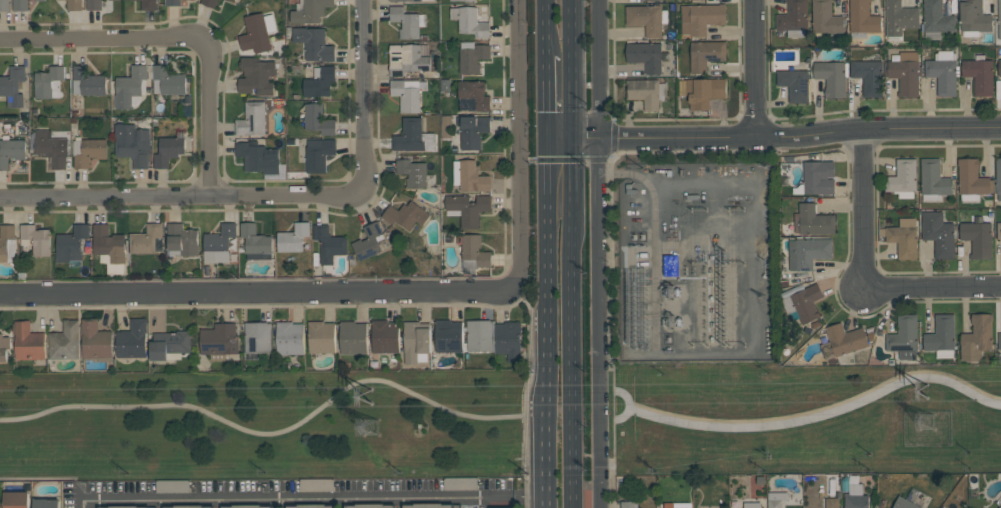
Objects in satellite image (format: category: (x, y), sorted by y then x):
building: (40, 0)
building: (227, 0)
building: (233, 0)
building: (416, 0)
building: (463, 0)
building: (394, 1)
building: (209, 2)
building: (172, 3)
building: (148, 4)
building: (4, 5)
building: (20, 5)
building: (74, 5)
building: (94, 5)
building: (310, 11)
building: (647, 18)
building: (701, 18)
building: (974, 18)
building: (999, 18)
building: (794, 19)
building: (825, 19)
building: (862, 19)
building: (899, 19)
building: (936, 19)
building: (407, 22)
building: (470, 22)
road: (543, 27)
building: (257, 32)
road: (180, 37)
building: (314, 44)
building: (706, 54)
building: (646, 56)
building: (471, 57)
building: (407, 59)
building: (999, 68)
road: (755, 69)
building: (943, 72)
building: (905, 73)
building: (979, 75)
building: (256, 76)
building: (868, 76)
building: (832, 77)
building: (167, 81)
building: (49, 82)
building: (87, 82)
building: (319, 82)
building: (794, 84)
building: (13, 86)
building: (129, 86)
building: (646, 92)
building: (702, 92)
building: (407, 94)
building: (472, 96)
road: (543, 97)
building: (252, 119)
building: (317, 119)
building: (472, 130)
building: (413, 136)
road: (772, 137)
traffic signals: (575, 138)
traffic signals: (543, 141)
building: (132, 144)
building: (51, 148)
building: (168, 150)
building: (11, 151)
building: (88, 151)
building: (319, 154)
building: (258, 157)
road: (519, 160)
road: (563, 160)
building: (412, 172)
road: (573, 175)
building: (469, 176)
building: (998, 178)
building: (816, 179)
building: (902, 179)
building: (933, 181)
building: (972, 181)
road: (651, 191)
road: (280, 196)
building: (469, 208)
building: (405, 215)
building: (813, 220)
building: (999, 230)
building: (938, 234)
building: (293, 237)
building: (977, 237)
building: (902, 238)
building: (36, 239)
building: (147, 239)
road: (543, 239)
building: (181, 240)
building: (370, 241)
building: (256, 242)
building: (7, 243)
building: (218, 243)
building: (328, 243)
building: (71, 244)
building: (109, 248)
building: (807, 252)
road: (597, 253)
building: (473, 254)
power substation: (696, 262)
building: (672, 264)
road: (864, 277)
road: (243, 293)
building: (803, 302)
road: (609, 331)
building: (480, 335)
building: (321, 336)
building: (384, 336)
building: (448, 336)
building: (941, 336)
building: (258, 337)
building: (352, 337)
building: (904, 337)
building: (976, 337)
building: (289, 338)
building: (132, 339)
building: (95, 340)
building: (507, 340)
building: (65, 341)
building: (219, 341)
building: (843, 341)
building: (999, 341)
building: (28, 342)
building: (416, 342)
building: (169, 345)
building: (4, 347)
road: (530, 349)
power tower: (928, 389)
power tower: (373, 394)
road: (628, 404)
road: (819, 414)
park: (806, 419)
road: (543, 422)
park: (265, 425)
power tower: (936, 425)
road: (572, 429)
road: (288, 431)
power tower: (376, 433)
road: (518, 434)
road: (613, 466)
building: (460, 483)
building: (316, 485)
building: (172, 486)
building: (855, 497)
building: (16, 499)
building: (776, 499)
road: (296, 500)
road: (529, 502)
building: (46, 503)
building: (831, 503)
building: (904, 503)
building: (629, 504)
building: (370, 505)
building: (431, 505)
building: (677, 505)
building: (752, 505)
building: (126, 506)
building: (190, 506)
building: (247, 506)
building: (311, 506)
building: (943, 507)
building: (1000, 507)

